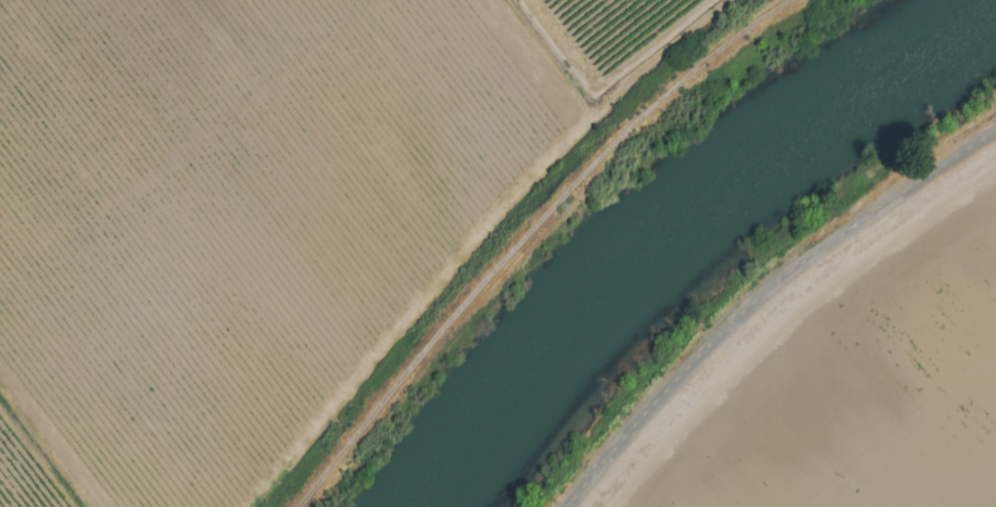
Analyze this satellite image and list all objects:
crop: (276, 220)
road: (526, 235)
road: (761, 294)
crop: (841, 368)

